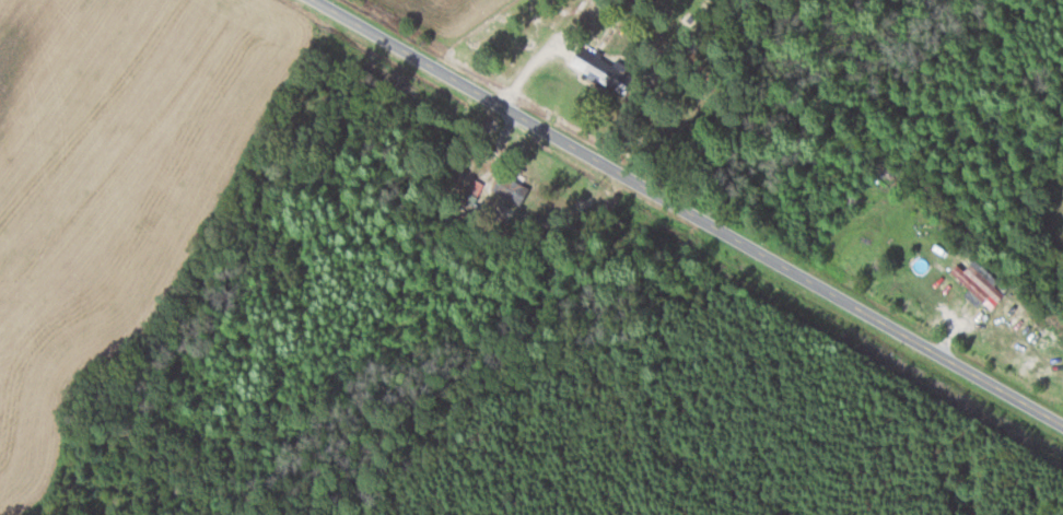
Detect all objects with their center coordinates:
building: (603, 71)
building: (510, 189)
road: (686, 215)
building: (978, 281)

